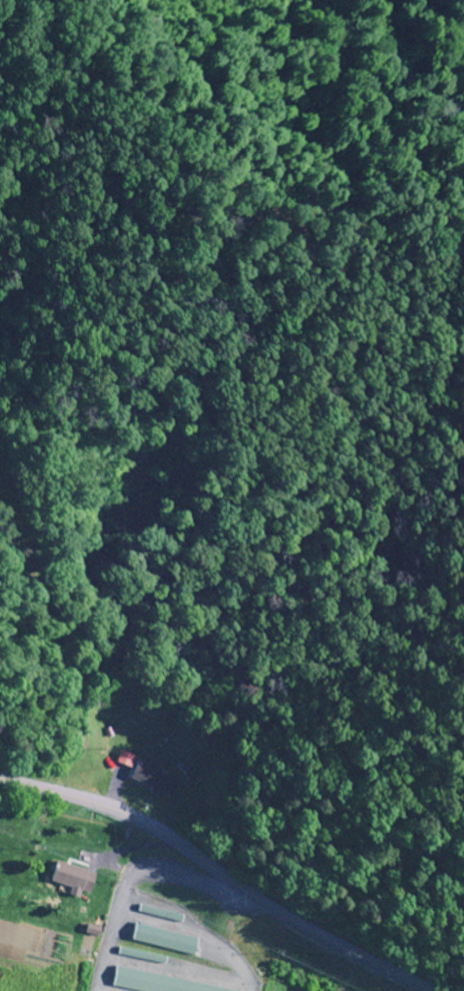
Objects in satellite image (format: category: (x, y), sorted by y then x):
building: (157, 780)
road: (213, 876)
building: (76, 878)
building: (168, 939)
building: (159, 983)

